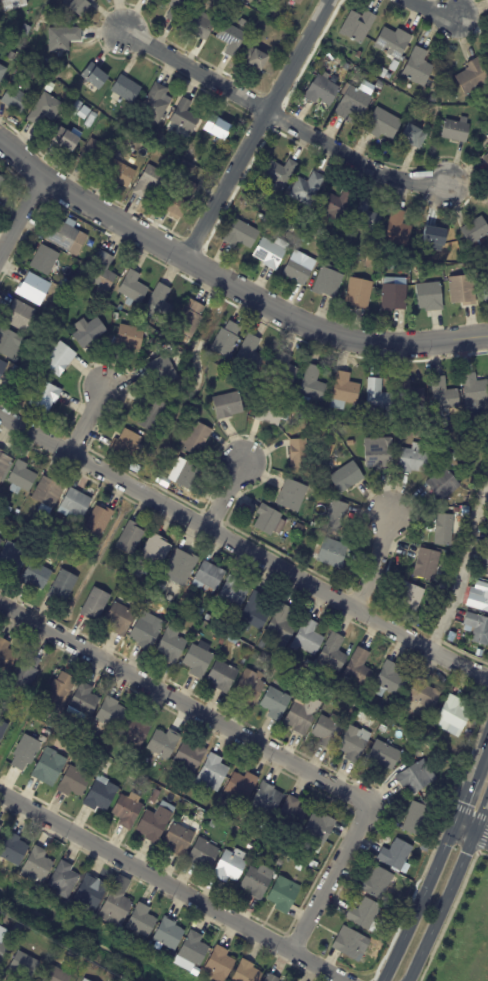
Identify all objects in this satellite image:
building: (300, 2)
building: (15, 4)
building: (80, 6)
building: (178, 9)
road: (432, 9)
building: (201, 26)
building: (359, 27)
building: (27, 30)
building: (64, 38)
building: (232, 38)
building: (393, 43)
building: (358, 55)
building: (12, 56)
building: (257, 58)
building: (338, 61)
building: (418, 67)
road: (193, 69)
building: (3, 73)
building: (389, 76)
building: (97, 77)
building: (474, 78)
building: (128, 89)
building: (324, 91)
building: (19, 100)
building: (156, 105)
building: (355, 105)
building: (46, 109)
building: (420, 109)
building: (110, 110)
building: (187, 117)
building: (383, 124)
building: (133, 125)
building: (221, 128)
road: (255, 128)
building: (138, 130)
building: (457, 130)
building: (415, 136)
building: (68, 139)
building: (487, 142)
building: (125, 148)
building: (96, 153)
road: (351, 158)
building: (487, 159)
building: (282, 170)
building: (185, 172)
building: (122, 173)
building: (151, 181)
building: (2, 182)
building: (309, 189)
building: (182, 200)
building: (336, 204)
road: (20, 213)
building: (367, 217)
building: (300, 227)
building: (399, 227)
building: (476, 231)
building: (61, 232)
building: (323, 232)
building: (346, 234)
building: (242, 235)
building: (437, 236)
building: (271, 252)
building: (429, 259)
building: (45, 260)
building: (374, 264)
building: (421, 266)
building: (299, 270)
building: (104, 271)
building: (66, 281)
road: (229, 282)
building: (329, 282)
building: (134, 287)
building: (34, 288)
building: (463, 290)
building: (485, 290)
building: (360, 293)
building: (430, 297)
building: (394, 298)
building: (161, 302)
building: (20, 314)
building: (116, 316)
building: (192, 317)
building: (89, 331)
building: (131, 335)
building: (44, 336)
building: (228, 340)
building: (7, 341)
building: (39, 347)
building: (251, 354)
building: (59, 359)
building: (10, 367)
building: (3, 368)
building: (165, 368)
building: (285, 368)
building: (17, 369)
building: (313, 383)
building: (255, 387)
building: (345, 390)
building: (476, 391)
building: (444, 393)
building: (412, 394)
building: (45, 396)
building: (381, 398)
building: (229, 404)
building: (270, 412)
building: (154, 414)
building: (355, 420)
road: (87, 421)
building: (366, 423)
building: (197, 438)
building: (127, 443)
building: (382, 452)
building: (300, 454)
building: (174, 455)
building: (416, 459)
building: (449, 459)
building: (4, 464)
building: (189, 476)
building: (347, 476)
building: (22, 478)
building: (444, 484)
building: (50, 491)
road: (224, 495)
building: (294, 496)
building: (76, 503)
building: (9, 509)
building: (457, 510)
building: (337, 516)
building: (99, 520)
building: (271, 521)
building: (318, 525)
building: (299, 527)
building: (446, 529)
building: (131, 538)
building: (486, 541)
building: (1, 542)
road: (243, 546)
building: (157, 549)
building: (332, 553)
building: (16, 555)
building: (486, 557)
road: (374, 562)
road: (463, 562)
building: (429, 564)
building: (183, 567)
building: (140, 569)
building: (38, 575)
building: (209, 577)
building: (65, 586)
building: (161, 589)
building: (431, 589)
building: (234, 591)
building: (413, 595)
building: (479, 599)
building: (140, 602)
building: (97, 603)
building: (186, 607)
building: (201, 610)
building: (257, 611)
building: (208, 617)
building: (122, 618)
building: (284, 623)
building: (479, 627)
building: (148, 631)
building: (310, 637)
building: (451, 638)
building: (254, 642)
building: (263, 644)
building: (172, 645)
building: (335, 652)
building: (7, 654)
building: (198, 661)
building: (360, 668)
building: (26, 671)
building: (223, 676)
building: (393, 678)
building: (328, 681)
building: (252, 685)
building: (61, 690)
building: (303, 693)
building: (426, 694)
building: (301, 699)
building: (84, 702)
building: (276, 703)
building: (387, 713)
building: (112, 714)
building: (303, 716)
building: (454, 716)
building: (365, 718)
building: (62, 725)
building: (3, 729)
building: (394, 729)
building: (137, 730)
building: (328, 731)
building: (49, 732)
building: (433, 734)
building: (45, 739)
building: (164, 743)
road: (257, 743)
building: (356, 743)
building: (73, 745)
building: (27, 752)
building: (416, 752)
building: (387, 753)
road: (479, 755)
building: (191, 756)
building: (51, 767)
building: (214, 773)
building: (417, 777)
building: (76, 782)
building: (242, 787)
building: (103, 794)
building: (155, 796)
building: (268, 798)
road: (462, 800)
building: (129, 810)
building: (294, 813)
building: (418, 817)
building: (156, 822)
traffic signals: (454, 822)
building: (1, 829)
building: (320, 829)
road: (471, 829)
traffic signals: (475, 831)
building: (260, 833)
building: (0, 838)
building: (180, 839)
building: (251, 846)
building: (427, 848)
building: (15, 849)
building: (319, 849)
building: (205, 854)
building: (397, 854)
building: (281, 862)
building: (40, 865)
building: (231, 866)
building: (367, 866)
building: (299, 867)
building: (12, 872)
building: (66, 878)
building: (259, 882)
building: (380, 883)
road: (172, 887)
road: (450, 889)
building: (94, 892)
building: (285, 894)
road: (419, 902)
building: (119, 903)
building: (366, 913)
building: (144, 920)
building: (118, 927)
building: (171, 934)
building: (1, 935)
building: (353, 944)
building: (195, 949)
building: (3, 951)
building: (59, 951)
building: (73, 954)
building: (221, 964)
building: (25, 965)
building: (198, 971)
building: (248, 972)
building: (57, 975)
building: (273, 978)
building: (81, 980)
building: (85, 980)

